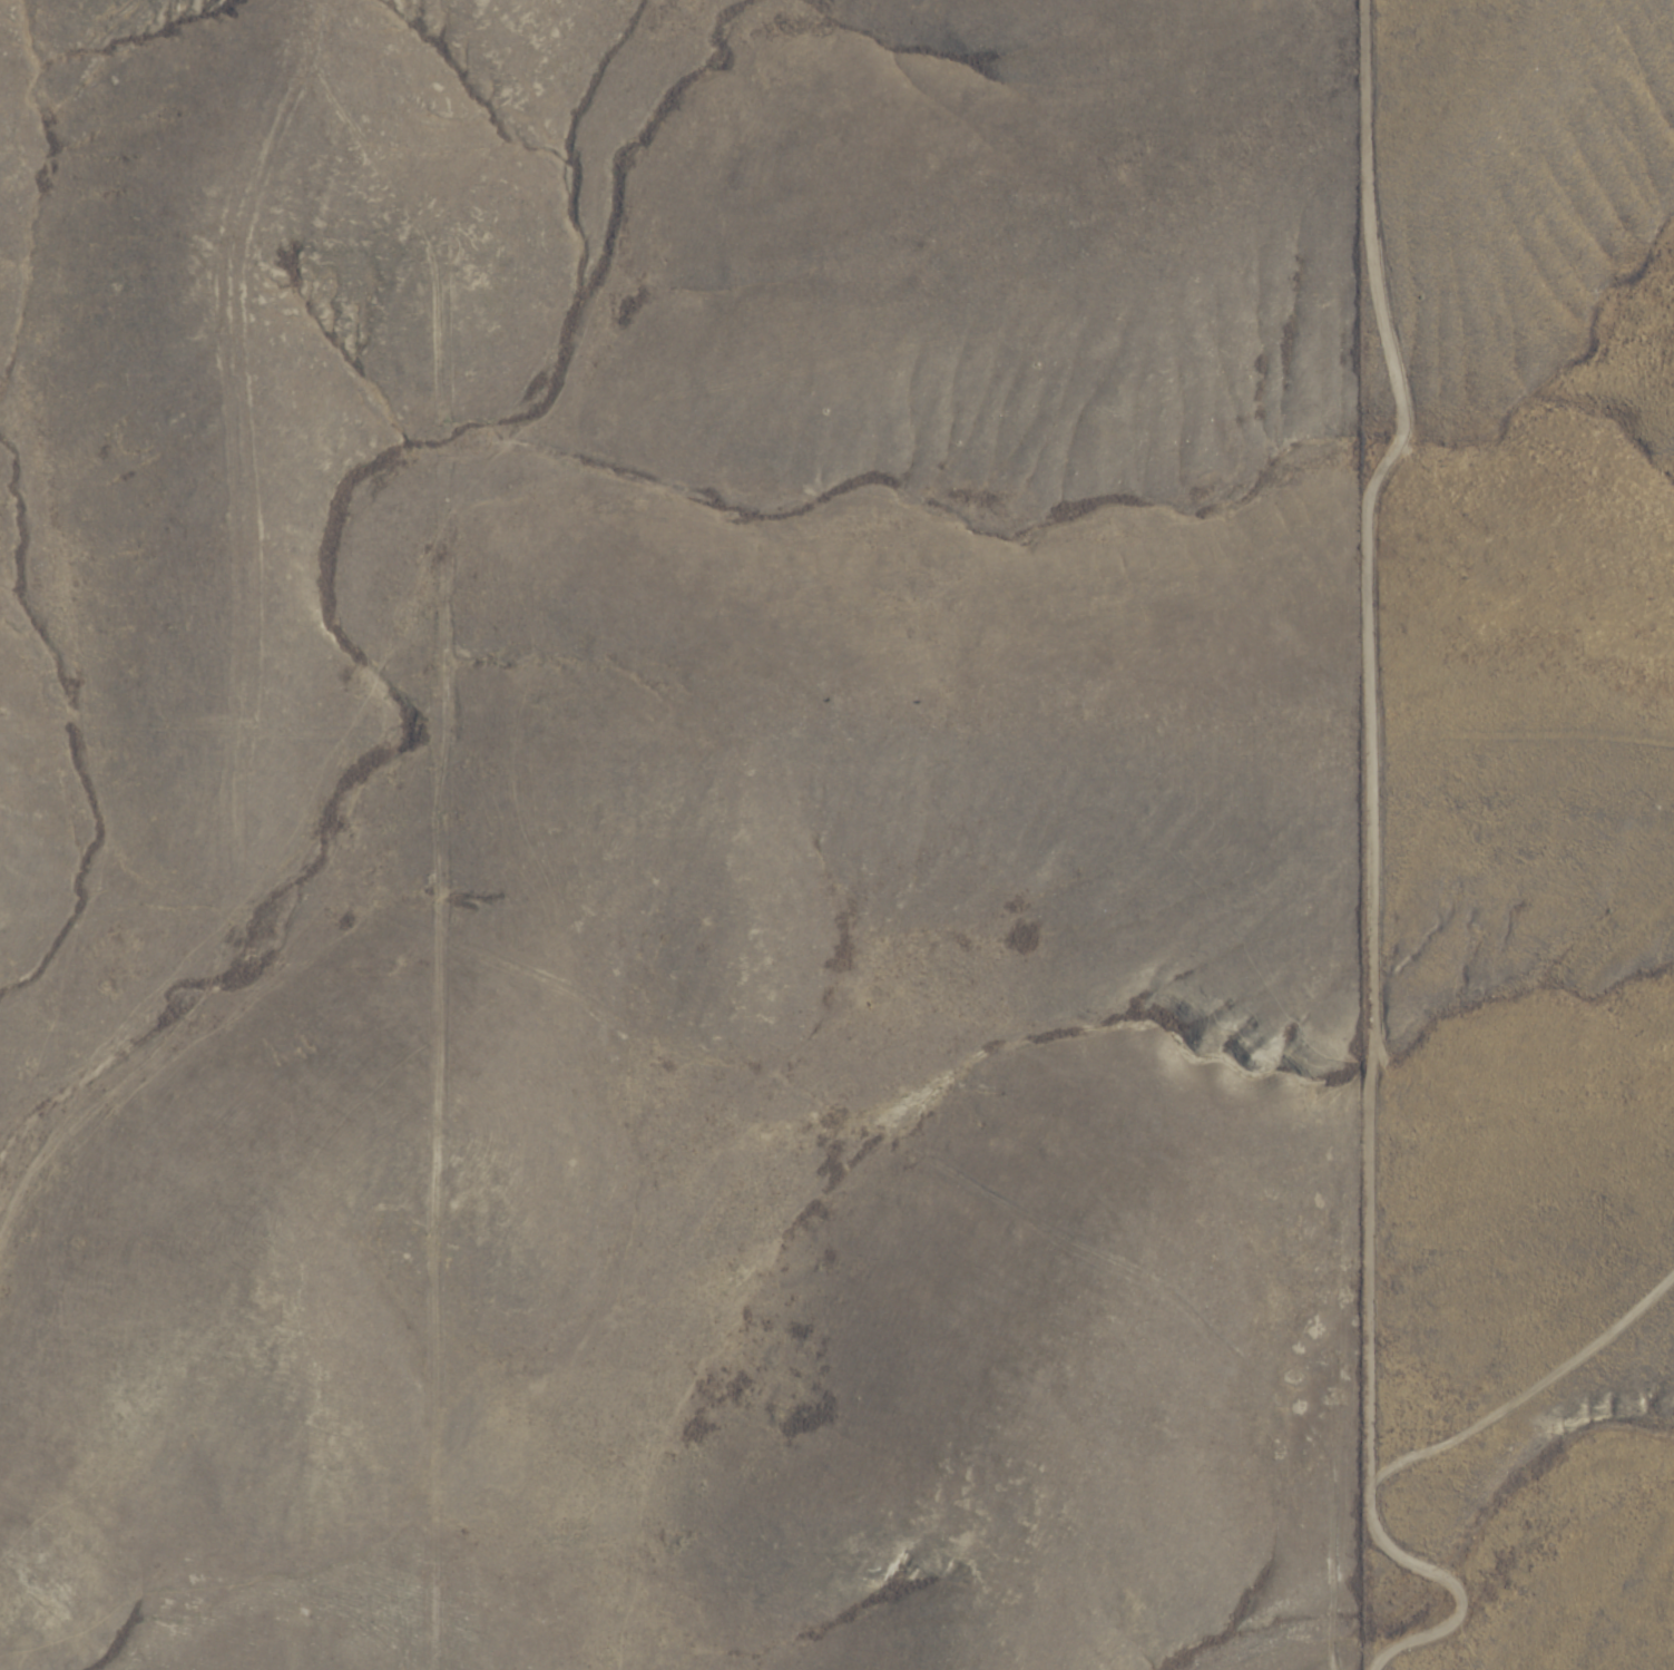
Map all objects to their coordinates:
road: (1371, 830)

